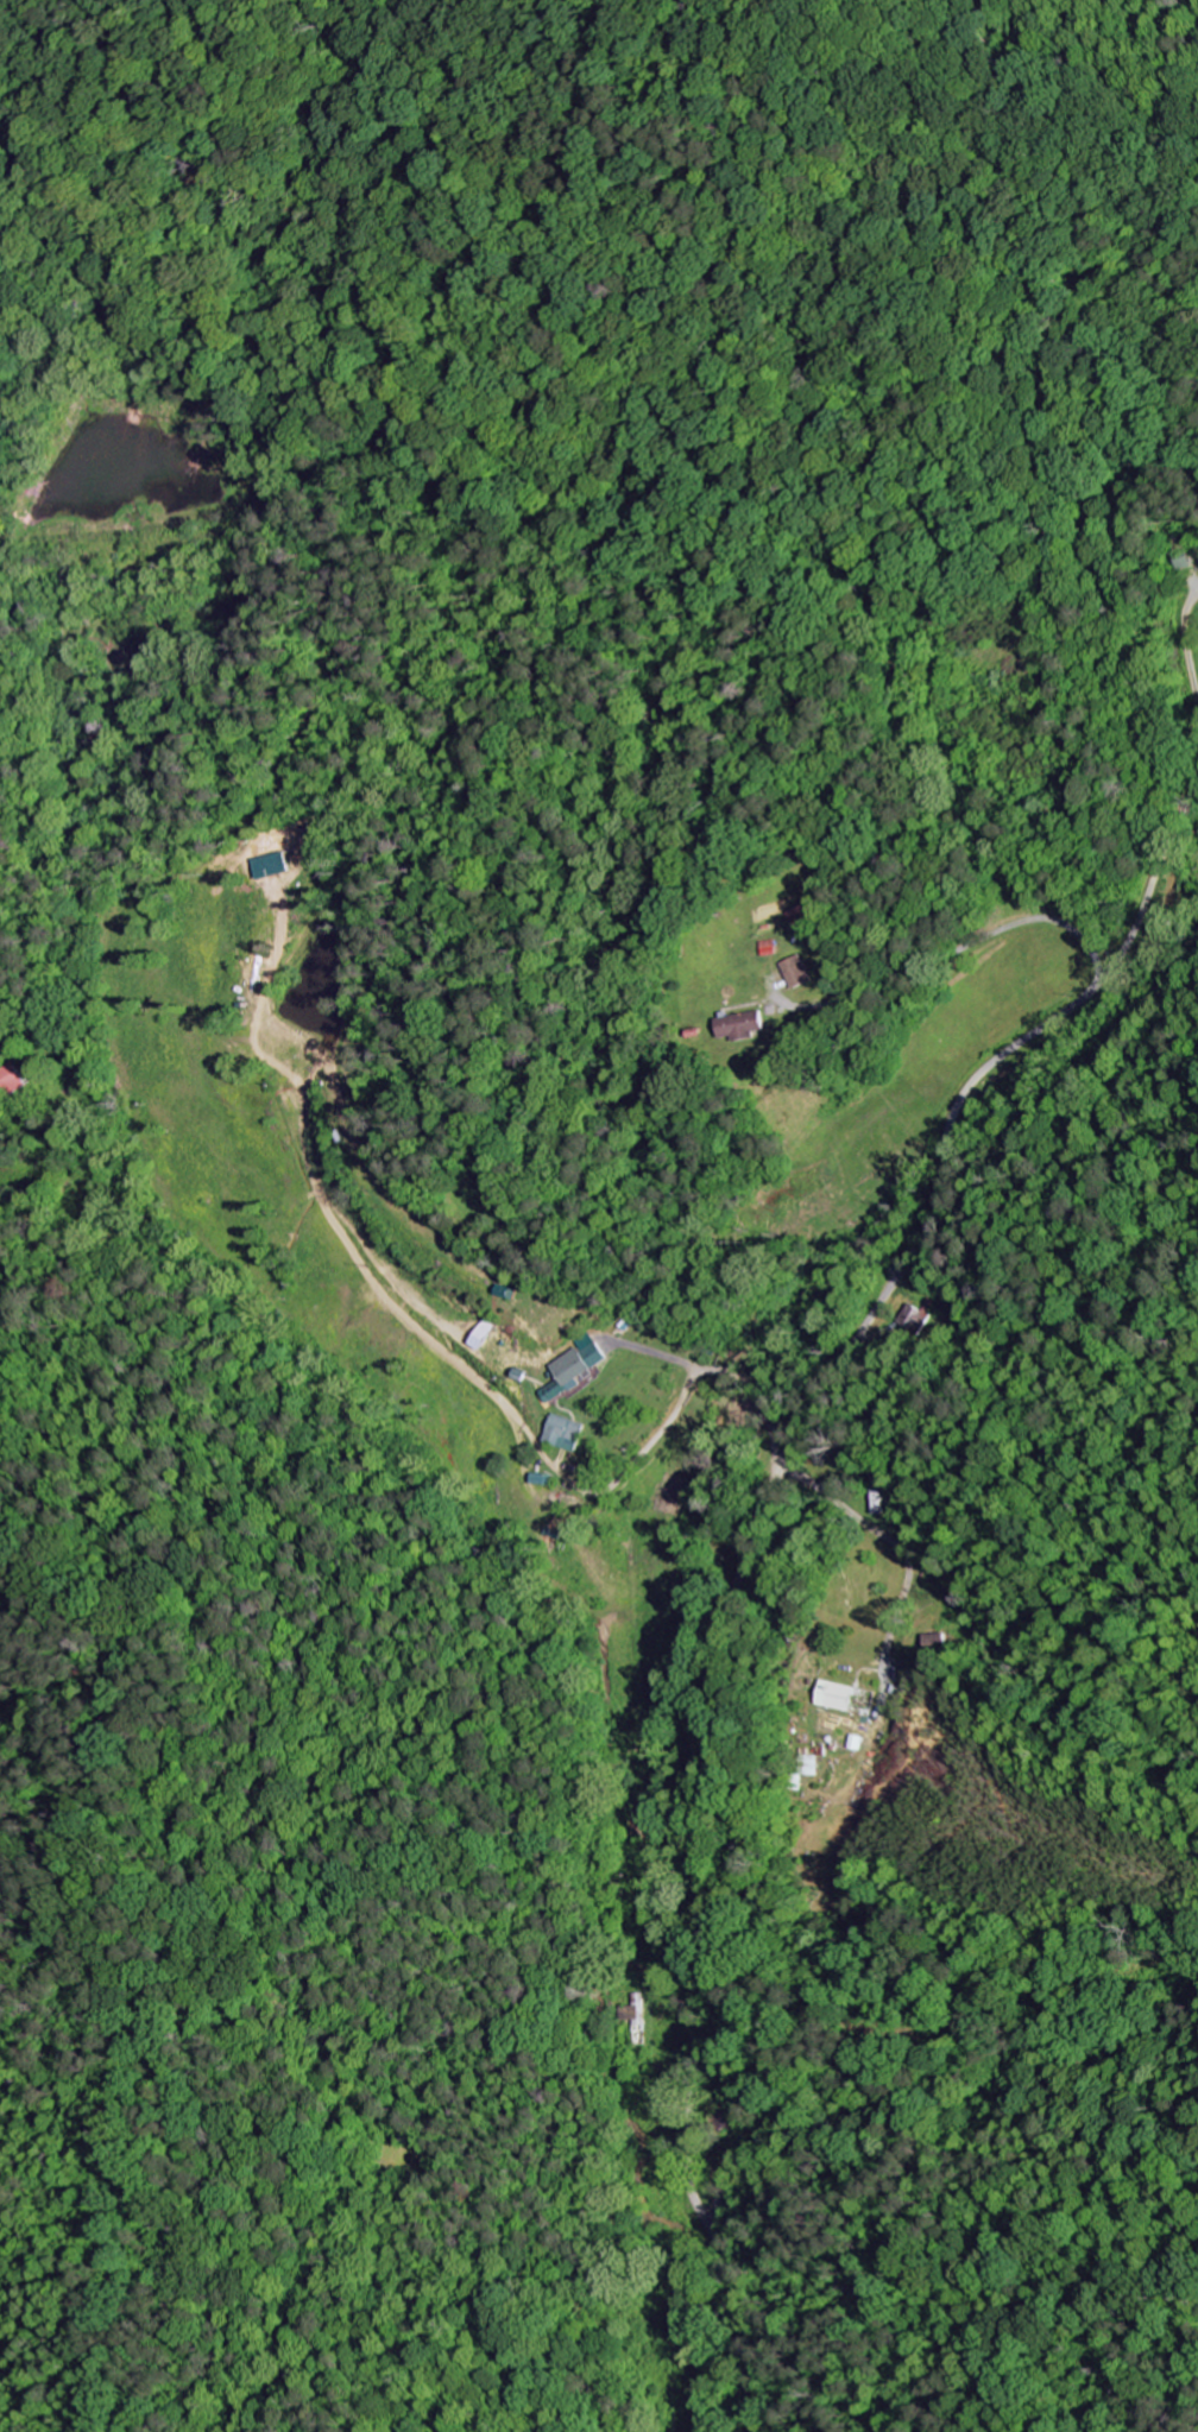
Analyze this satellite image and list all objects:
building: (271, 865)
building: (795, 914)
building: (768, 948)
road: (1091, 961)
building: (795, 972)
building: (744, 1025)
building: (11, 1079)
building: (913, 1316)
building: (592, 1354)
building: (562, 1375)
road: (742, 1385)
building: (560, 1433)
building: (537, 1479)
road: (752, 1540)
building: (839, 1695)
building: (814, 1764)

